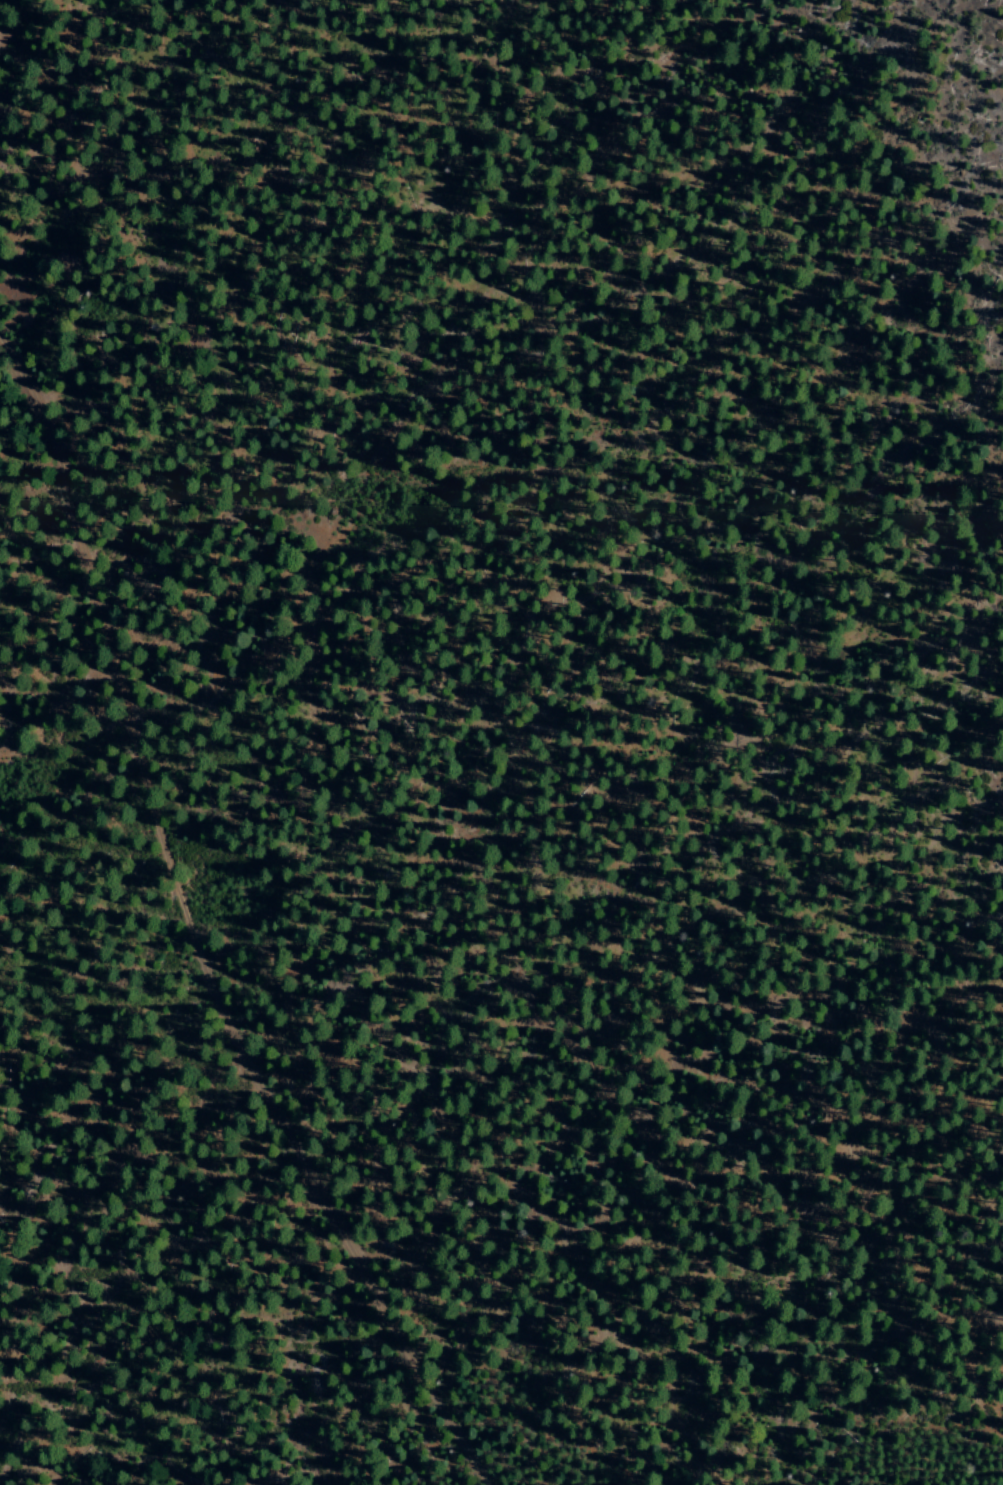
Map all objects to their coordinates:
road: (209, 925)

